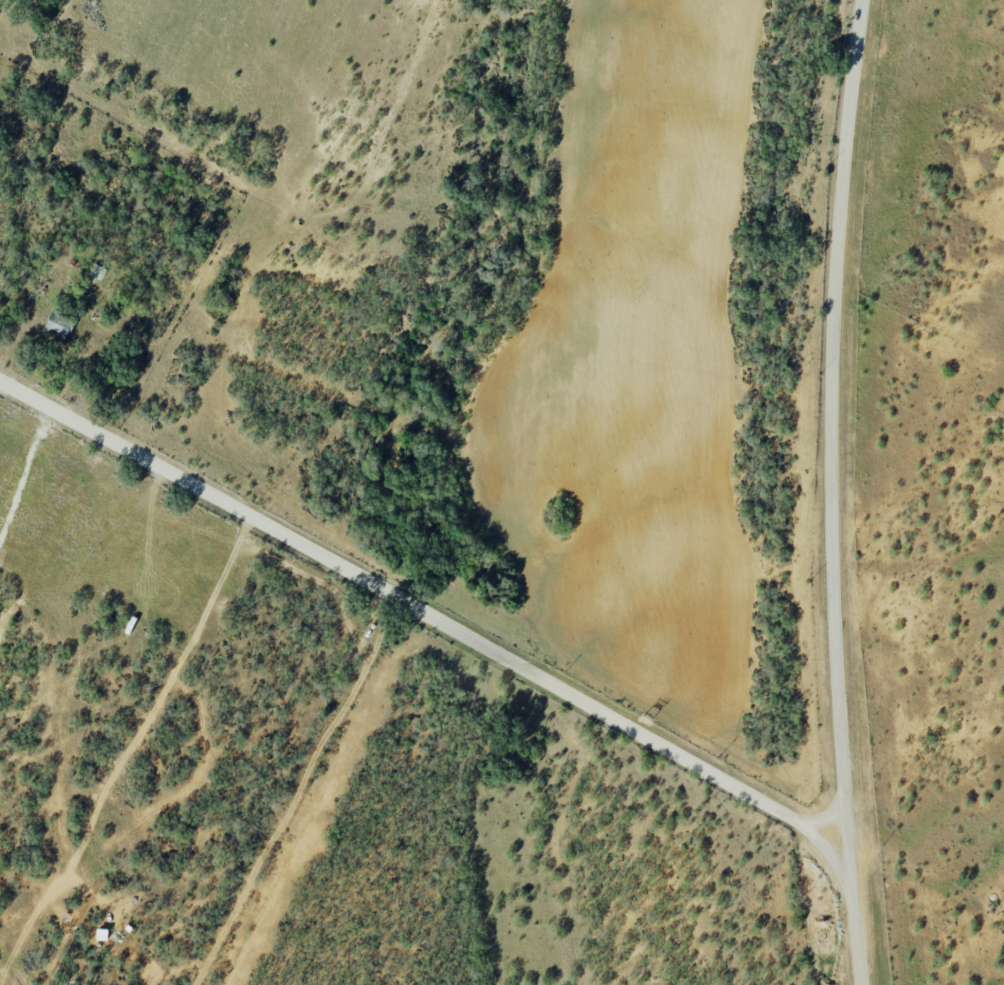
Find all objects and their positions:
building: (60, 322)
road: (839, 405)
road: (412, 605)
road: (838, 823)
road: (853, 909)

